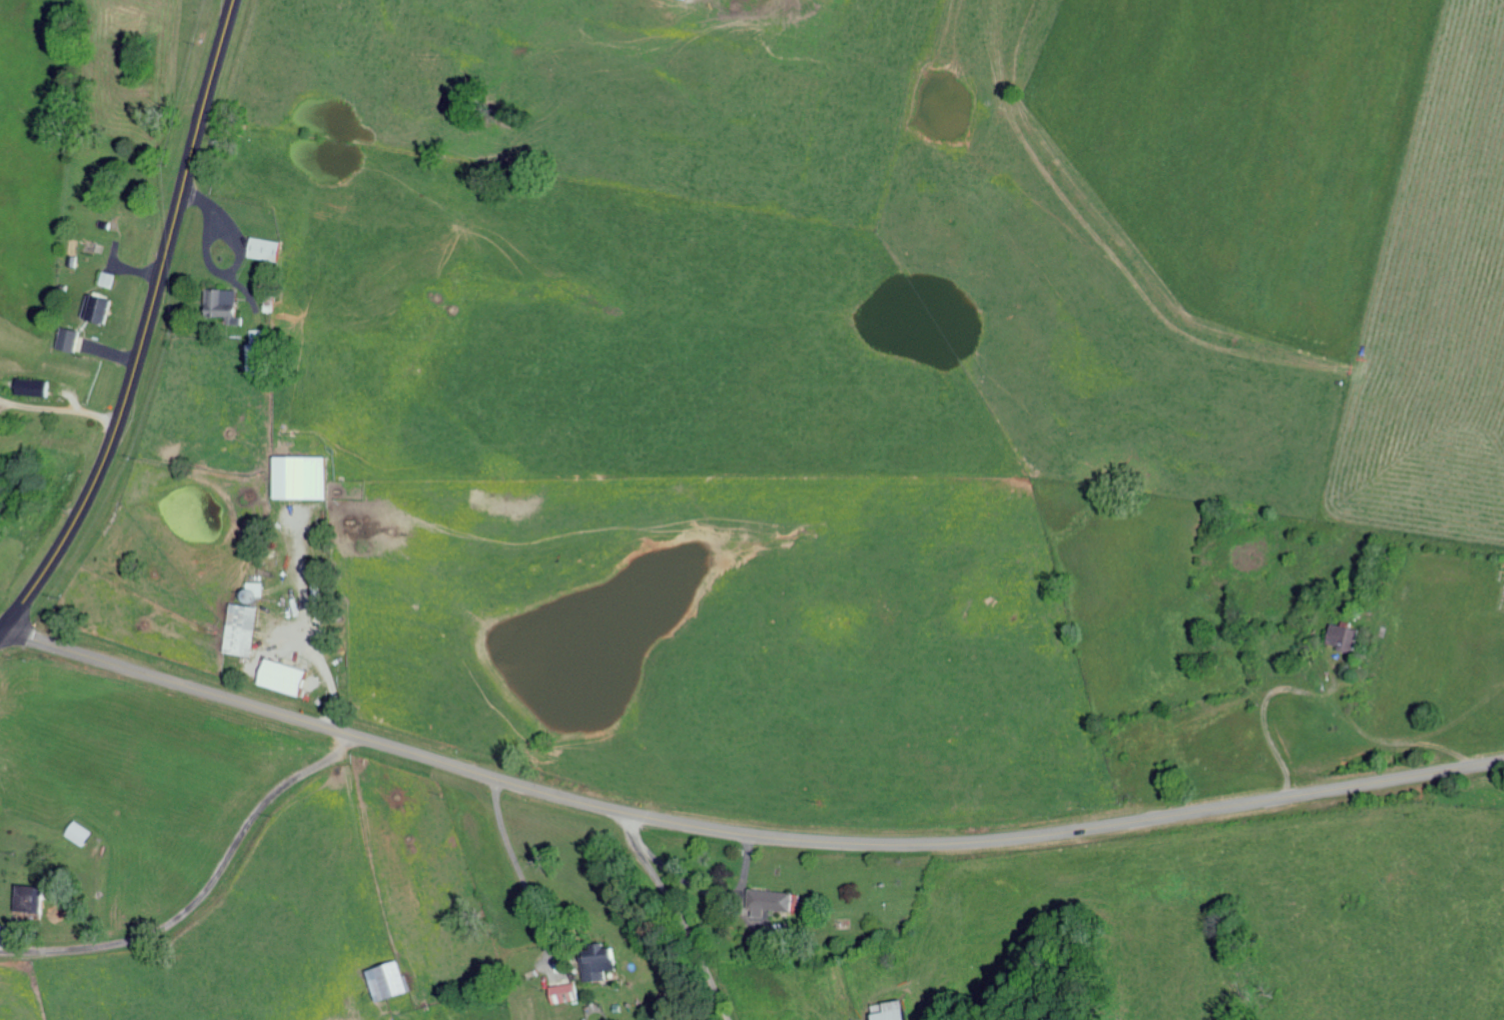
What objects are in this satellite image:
building: (263, 248)
building: (107, 278)
building: (219, 301)
building: (103, 307)
road: (145, 327)
building: (69, 338)
building: (258, 351)
building: (37, 386)
building: (299, 476)
building: (240, 628)
building: (1341, 635)
building: (279, 676)
road: (742, 832)
building: (81, 833)
road: (204, 882)
building: (36, 897)
road: (502, 897)
building: (770, 901)
road: (679, 915)
building: (596, 961)
building: (384, 980)
building: (562, 992)
building: (887, 1011)

